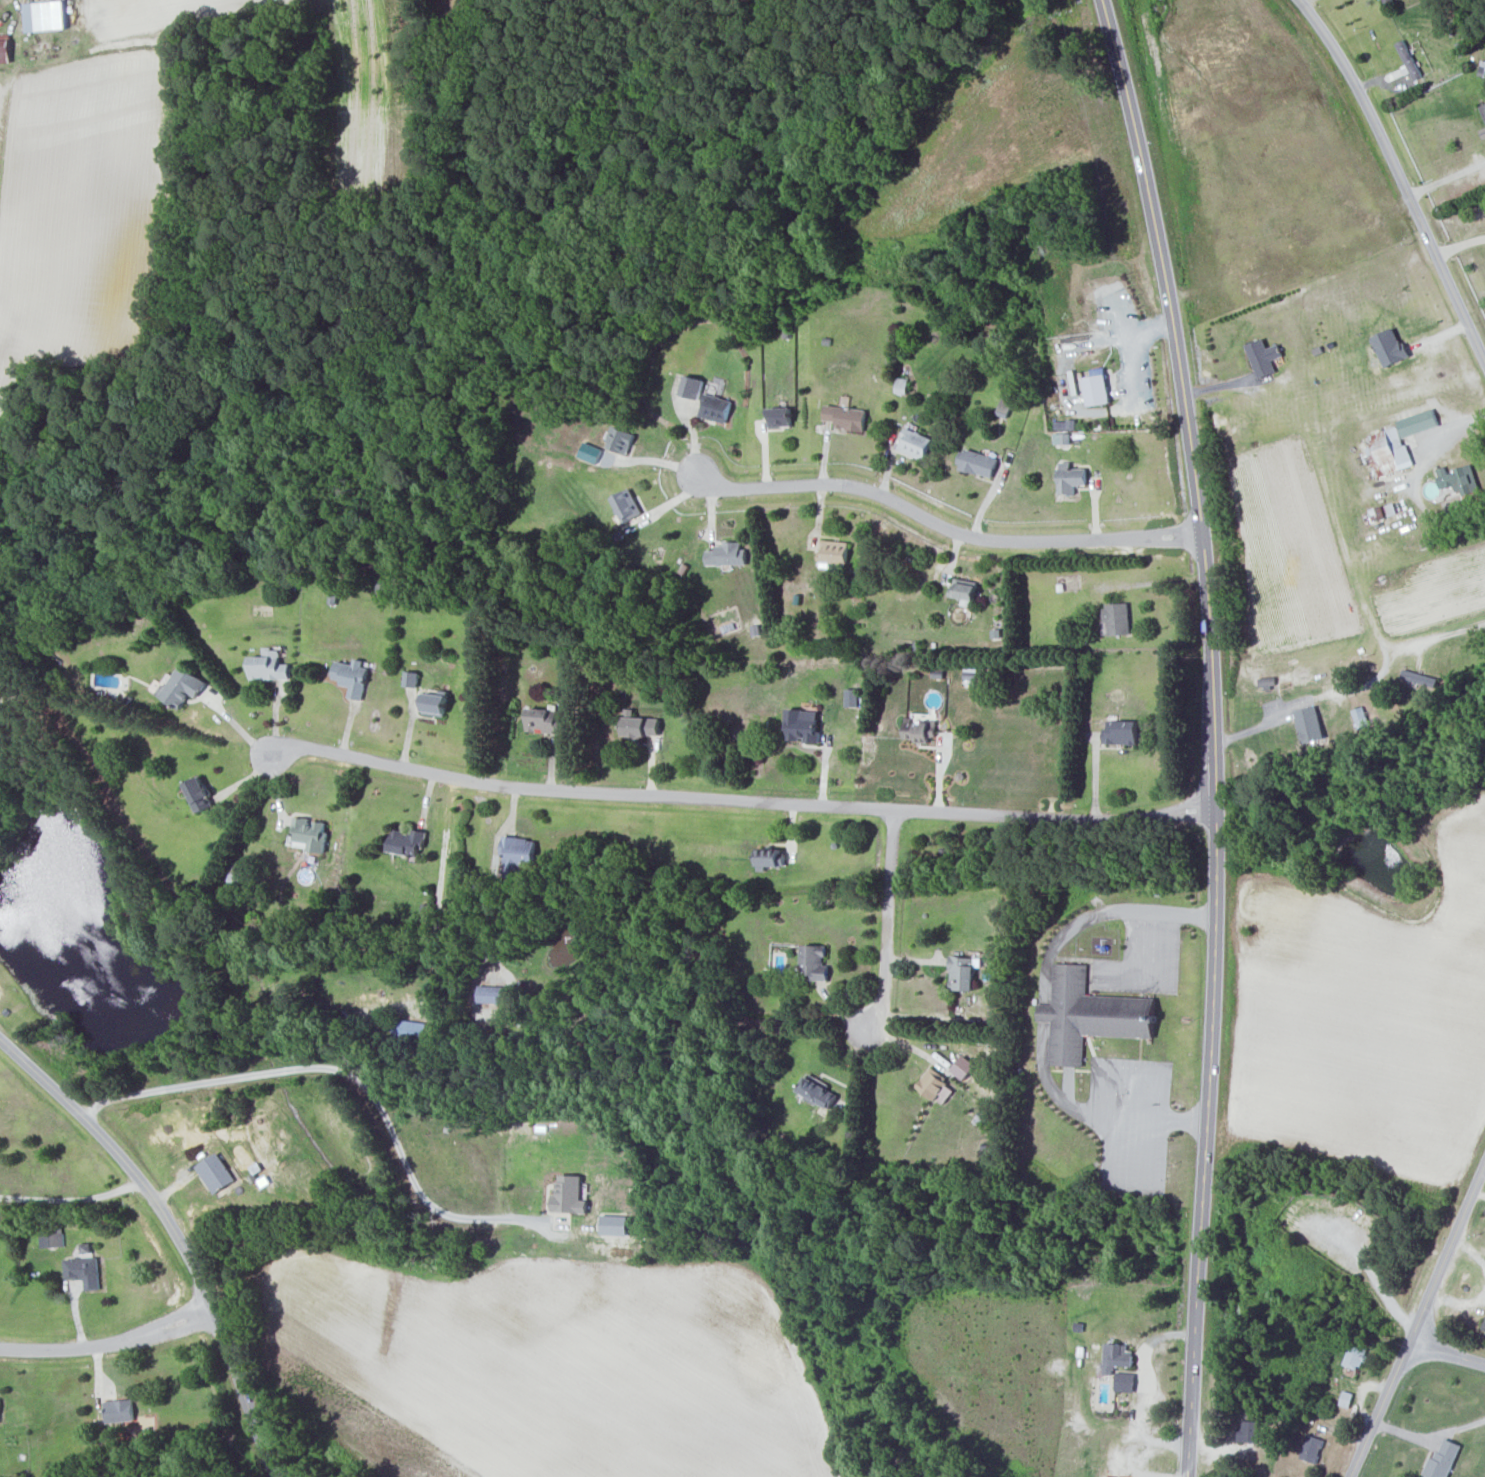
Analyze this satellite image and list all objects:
building: (45, 16)
building: (4, 51)
building: (1483, 109)
building: (1483, 133)
road: (1398, 175)
road: (1446, 178)
road: (1460, 247)
building: (1390, 348)
building: (1264, 358)
building: (692, 388)
building: (1097, 390)
building: (716, 409)
building: (780, 418)
building: (846, 418)
building: (1418, 423)
building: (1065, 425)
building: (1061, 438)
building: (619, 440)
building: (915, 444)
road: (659, 452)
building: (590, 453)
building: (1388, 453)
building: (978, 464)
road: (1415, 477)
building: (1072, 480)
building: (1460, 480)
building: (626, 506)
building: (1384, 512)
road: (946, 527)
building: (834, 552)
building: (727, 555)
building: (965, 590)
building: (1118, 619)
building: (268, 666)
building: (352, 675)
building: (970, 676)
building: (411, 678)
building: (1267, 681)
building: (183, 686)
road: (1354, 690)
building: (436, 702)
building: (543, 720)
road: (235, 724)
building: (641, 724)
building: (804, 724)
building: (1310, 724)
building: (920, 726)
building: (1122, 731)
road: (1213, 734)
building: (199, 793)
road: (742, 800)
building: (309, 834)
building: (408, 841)
building: (517, 854)
building: (771, 857)
road: (493, 875)
road: (887, 920)
building: (815, 961)
building: (491, 993)
road: (1044, 1012)
building: (1090, 1015)
building: (409, 1029)
building: (963, 1067)
road: (1129, 1072)
road: (358, 1078)
building: (936, 1086)
building: (818, 1092)
road: (1147, 1143)
building: (215, 1172)
road: (1111, 1172)
building: (569, 1195)
road: (72, 1200)
road: (175, 1233)
building: (51, 1239)
building: (82, 1270)
road: (1375, 1279)
road: (1421, 1322)
building: (1484, 1325)
road: (108, 1343)
road: (1449, 1354)
building: (1357, 1356)
building: (1117, 1357)
building: (1126, 1381)
building: (0, 1397)
building: (119, 1410)
road: (1433, 1425)
building: (1249, 1431)
building: (1312, 1448)
building: (1443, 1460)
building: (1109, 1476)

